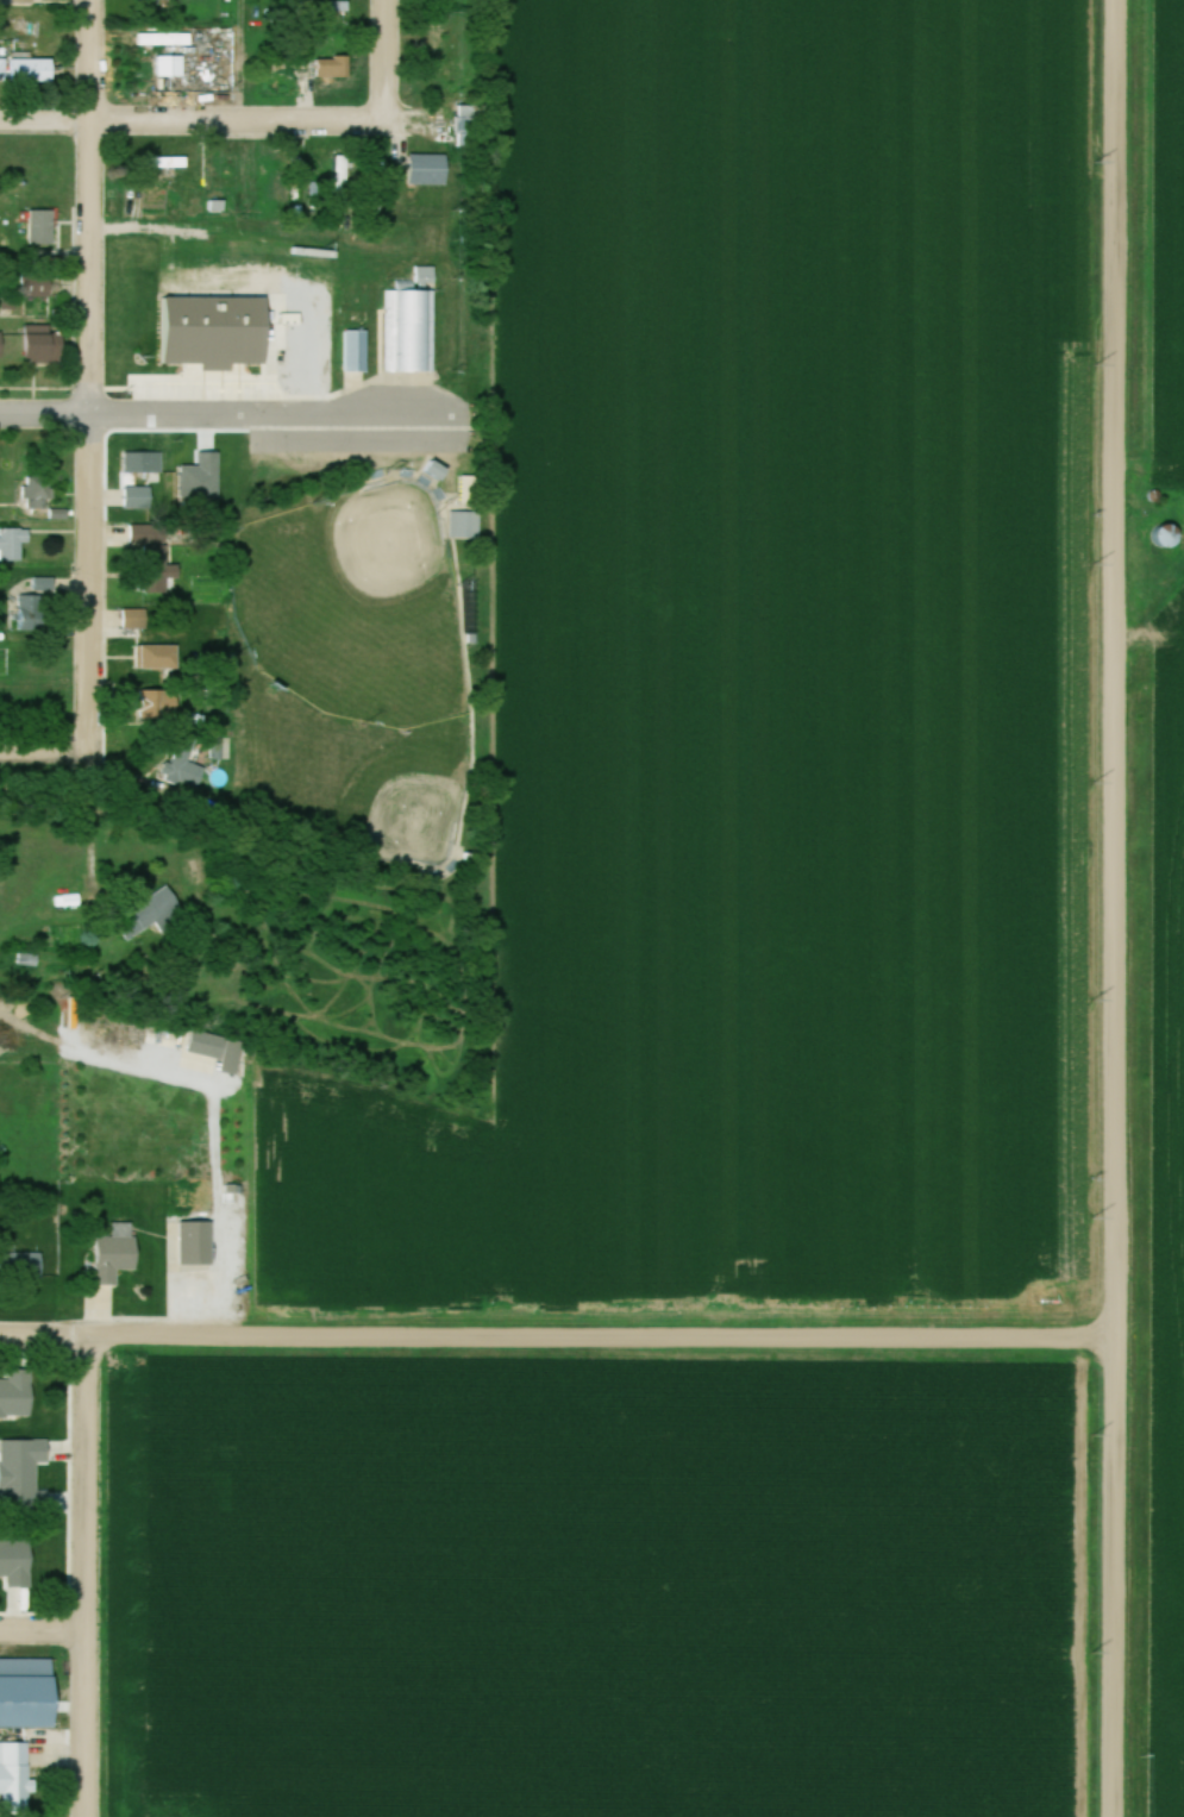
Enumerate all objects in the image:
building: (156, 0)
building: (23, 1)
building: (434, 37)
road: (248, 61)
road: (388, 61)
building: (2, 70)
building: (32, 71)
building: (456, 79)
road: (207, 120)
building: (465, 129)
building: (169, 163)
building: (42, 227)
building: (39, 290)
building: (408, 325)
building: (43, 345)
building: (1, 346)
building: (355, 352)
road: (90, 376)
road: (226, 415)
building: (146, 469)
building: (464, 526)
building: (1169, 537)
building: (13, 544)
building: (157, 563)
building: (31, 608)
building: (134, 620)
building: (159, 658)
building: (158, 707)
road: (45, 753)
building: (184, 769)
road: (1113, 908)
building: (151, 916)
building: (196, 1242)
building: (117, 1249)
building: (21, 1265)
road: (556, 1335)
building: (18, 1389)
building: (18, 1421)
building: (17, 1500)
road: (88, 1575)
building: (17, 1579)
road: (44, 1634)
building: (27, 1693)
building: (14, 1778)

